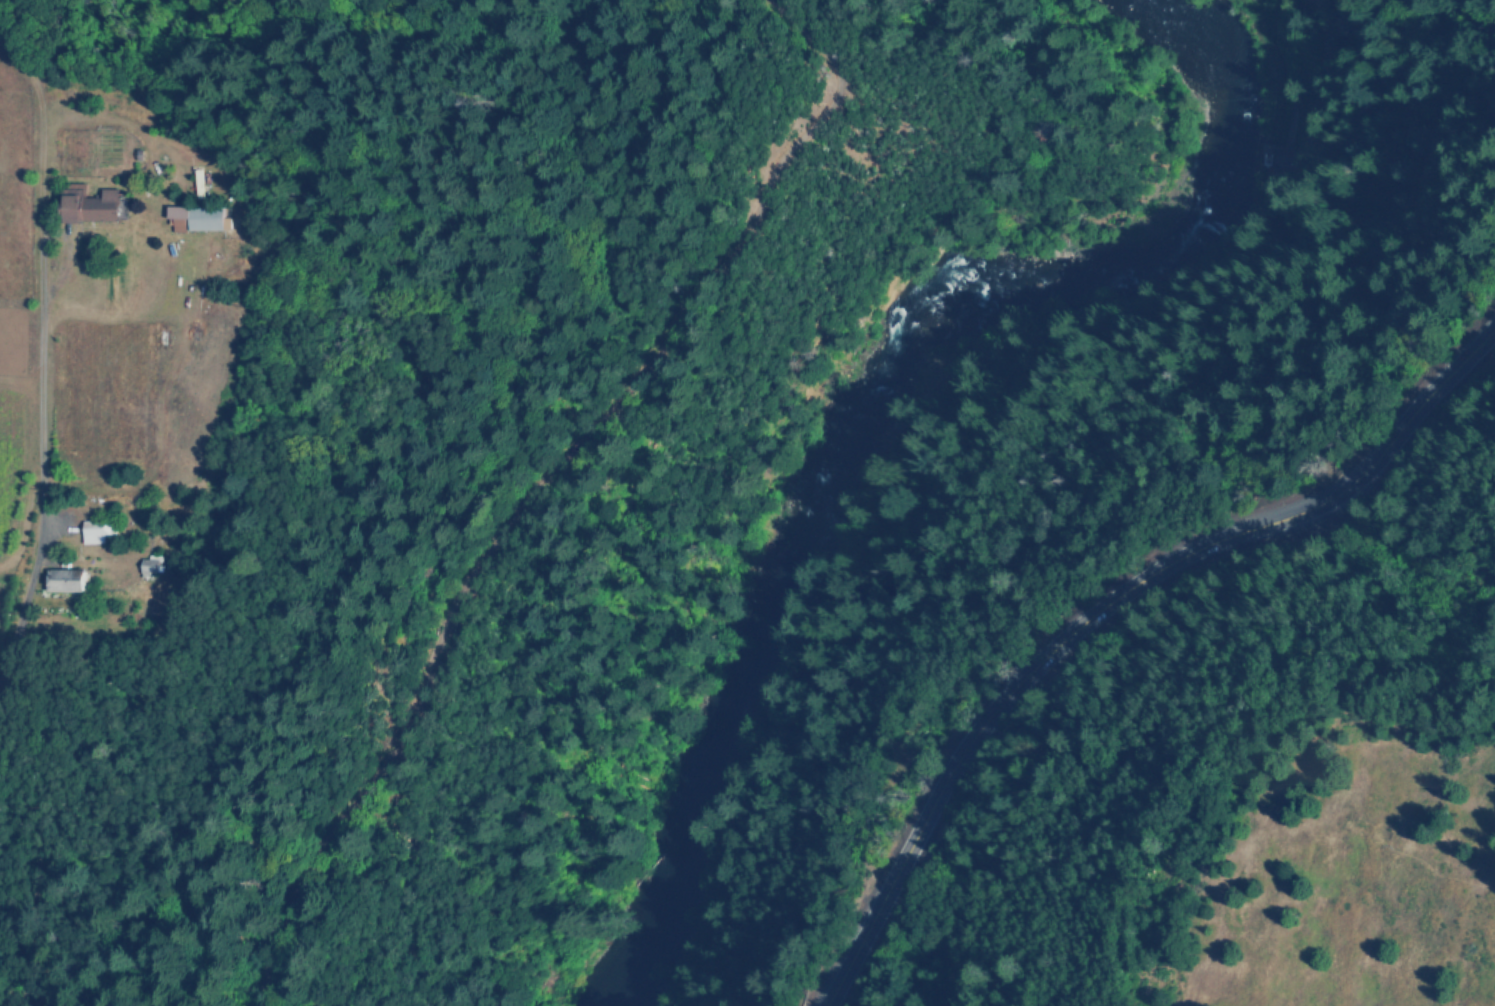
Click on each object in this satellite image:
building: (89, 205)
building: (195, 217)
river: (850, 410)
road: (563, 487)
building: (95, 530)
building: (150, 564)
building: (64, 580)
road: (1103, 604)
road: (27, 627)

